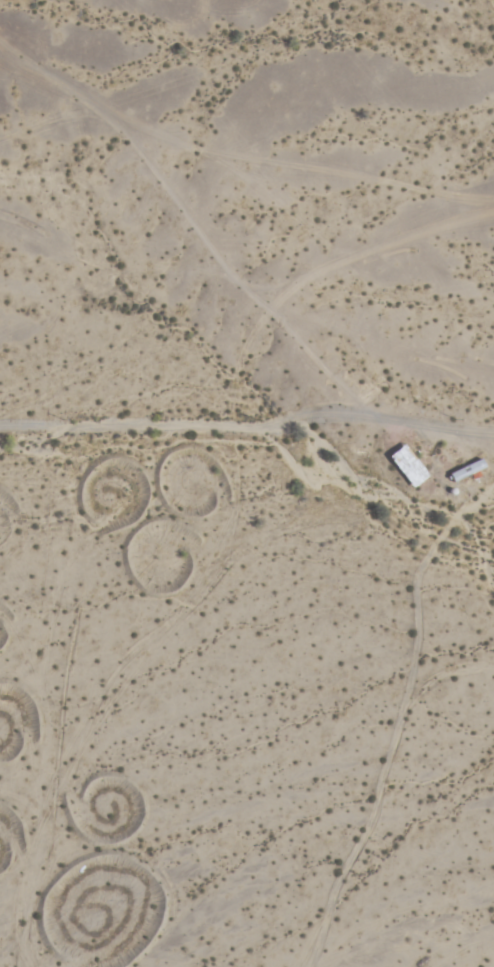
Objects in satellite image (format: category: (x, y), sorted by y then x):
building: (410, 466)

